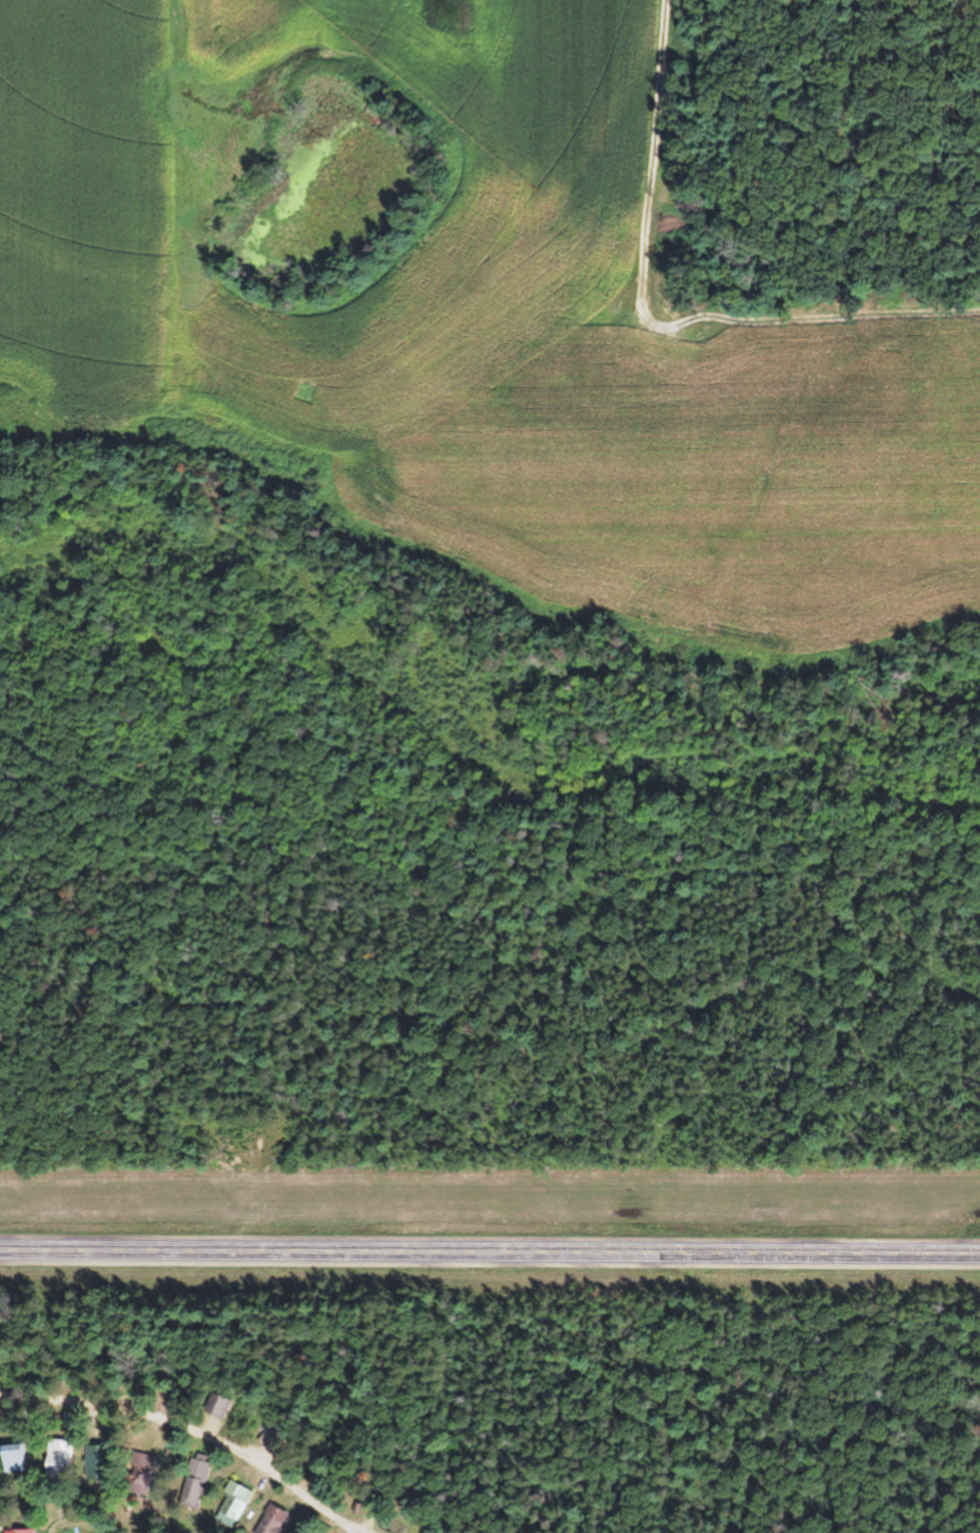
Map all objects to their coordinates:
road: (490, 1258)
building: (218, 1411)
building: (56, 1459)
building: (11, 1461)
building: (192, 1487)
building: (131, 1488)
road: (131, 1498)
building: (230, 1506)
building: (271, 1522)
building: (15, 1532)

